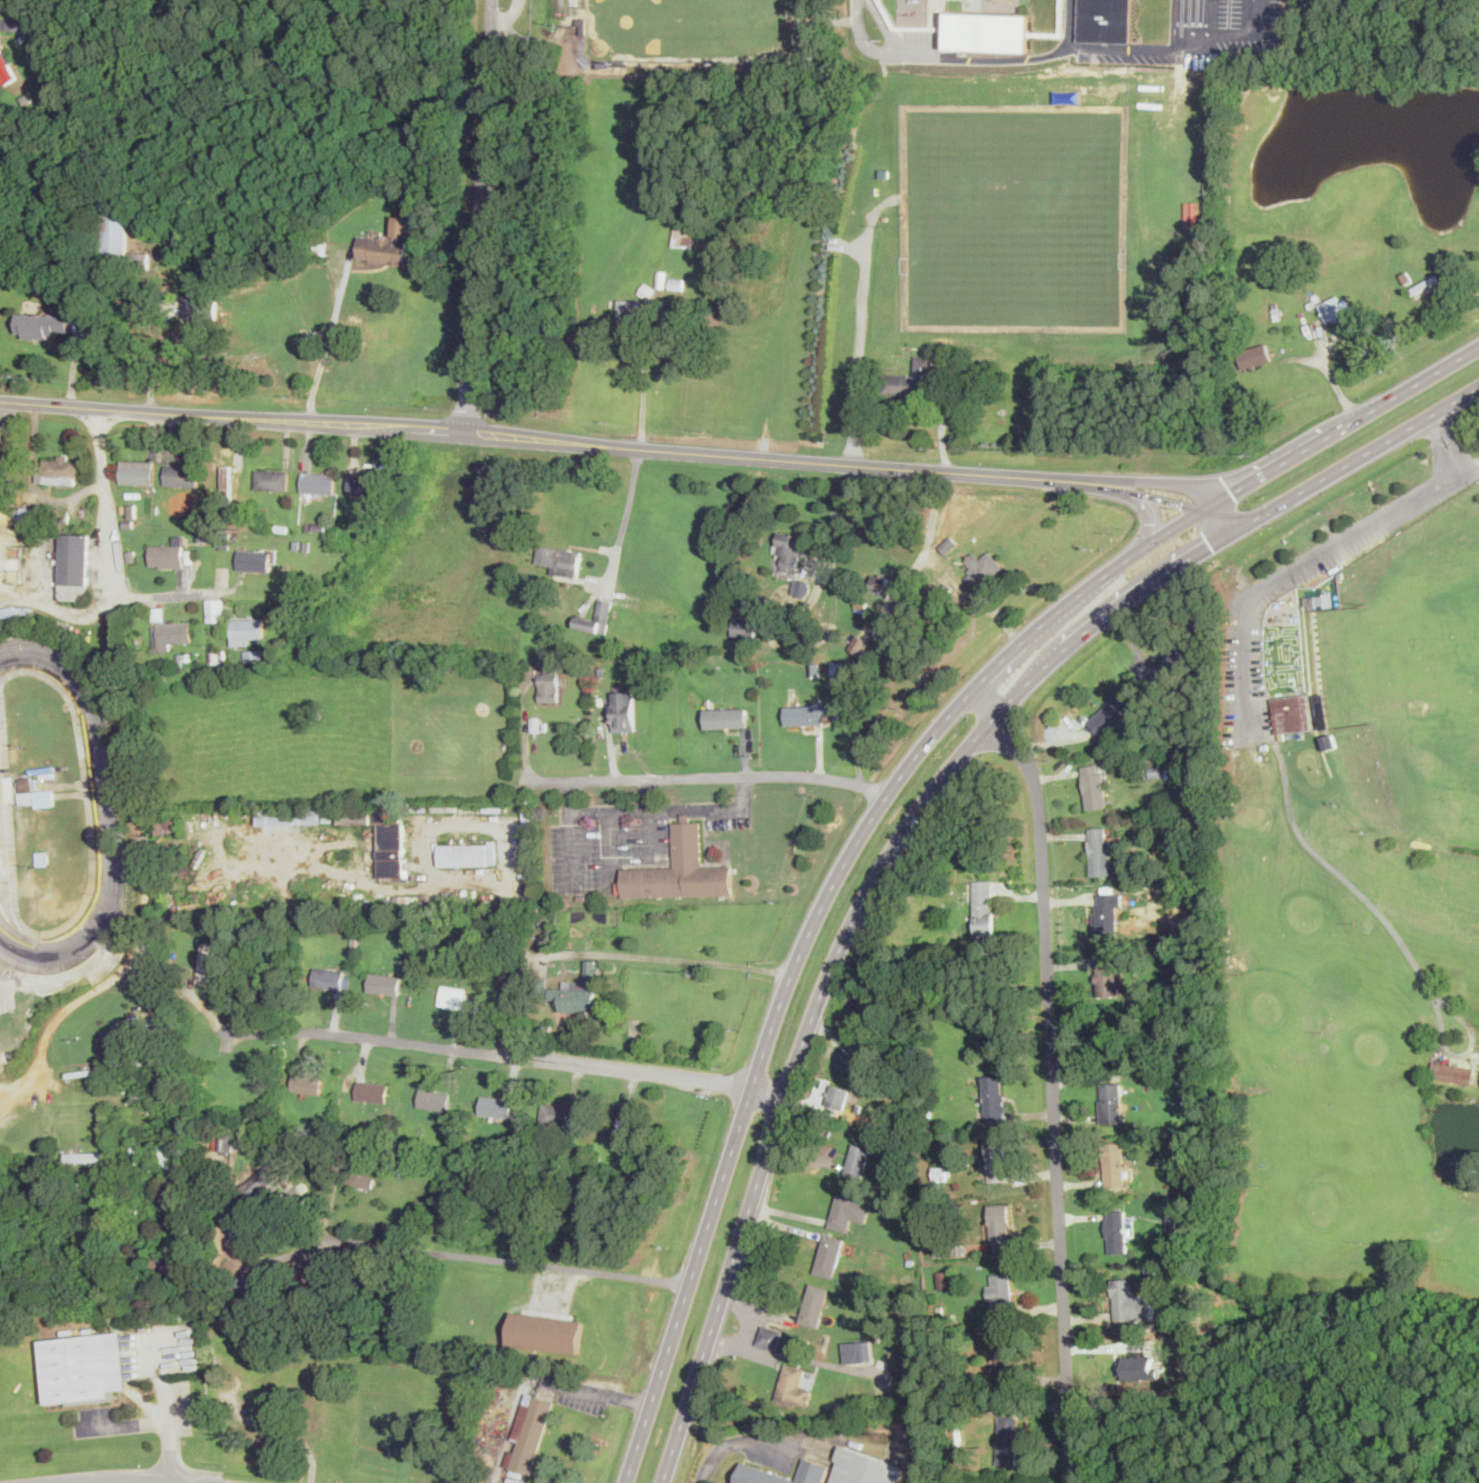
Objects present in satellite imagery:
road: (506, 15)
building: (1105, 20)
road: (1069, 24)
road: (26, 29)
building: (986, 32)
road: (1233, 34)
road: (881, 50)
road: (1050, 52)
building: (7, 67)
road: (478, 216)
building: (683, 237)
building: (121, 240)
building: (387, 243)
building: (676, 283)
building: (1425, 285)
building: (199, 306)
building: (1336, 307)
building: (632, 312)
building: (42, 324)
road: (861, 325)
road: (145, 326)
road: (327, 339)
building: (1255, 354)
road: (223, 356)
road: (1435, 371)
road: (1331, 376)
road: (645, 377)
building: (910, 378)
road: (155, 411)
building: (0, 434)
road: (1445, 442)
road: (708, 451)
road: (1300, 451)
building: (0, 454)
road: (1354, 459)
road: (1469, 466)
building: (59, 470)
building: (138, 471)
building: (180, 474)
building: (272, 478)
building: (318, 481)
road: (1163, 481)
building: (365, 485)
road: (1126, 489)
traffic signals: (1233, 492)
road: (1178, 503)
traffic signals: (1182, 504)
road: (625, 519)
road: (1220, 519)
road: (1151, 522)
road: (1165, 533)
road: (930, 534)
building: (223, 539)
building: (948, 544)
road: (818, 545)
traffic signals: (1211, 545)
building: (789, 551)
building: (169, 553)
building: (73, 559)
building: (254, 559)
building: (560, 559)
building: (982, 568)
road: (1291, 569)
building: (882, 583)
building: (800, 587)
road: (169, 595)
building: (1316, 601)
road: (56, 605)
road: (1117, 605)
building: (215, 609)
building: (596, 617)
road: (1042, 623)
building: (744, 626)
building: (246, 629)
building: (172, 634)
building: (252, 654)
building: (1170, 665)
building: (841, 669)
building: (549, 686)
building: (623, 711)
building: (1113, 711)
building: (807, 714)
building: (1291, 714)
building: (725, 717)
road: (525, 738)
building: (43, 770)
road: (136, 781)
road: (702, 781)
building: (26, 782)
building: (1094, 784)
building: (37, 796)
road: (657, 810)
raceway: (108, 813)
building: (291, 816)
road: (650, 821)
road: (88, 836)
building: (384, 839)
road: (509, 843)
road: (571, 847)
building: (1099, 850)
road: (609, 851)
building: (463, 854)
building: (679, 870)
building: (399, 903)
road: (4, 905)
building: (983, 906)
building: (1107, 914)
road: (677, 959)
building: (204, 963)
building: (1110, 974)
building: (327, 979)
building: (384, 984)
building: (580, 994)
building: (453, 997)
building: (865, 1012)
road: (504, 1054)
building: (849, 1061)
road: (795, 1066)
road: (759, 1068)
building: (1454, 1070)
road: (1053, 1076)
building: (307, 1084)
building: (372, 1092)
building: (838, 1097)
building: (994, 1097)
building: (433, 1100)
road: (7, 1101)
building: (1111, 1101)
building: (496, 1107)
building: (558, 1115)
building: (640, 1128)
building: (228, 1143)
building: (87, 1156)
building: (998, 1159)
building: (857, 1162)
building: (1114, 1162)
building: (350, 1174)
building: (260, 1183)
building: (847, 1212)
building: (999, 1229)
building: (1117, 1230)
building: (944, 1248)
building: (829, 1257)
road: (505, 1259)
building: (162, 1264)
building: (946, 1279)
building: (1001, 1291)
building: (254, 1292)
building: (1127, 1300)
building: (814, 1306)
building: (544, 1333)
building: (769, 1336)
road: (728, 1346)
building: (859, 1351)
road: (782, 1355)
building: (1006, 1360)
building: (1139, 1367)
building: (910, 1368)
building: (81, 1369)
building: (794, 1387)
road: (599, 1391)
road: (160, 1419)
road: (512, 1420)
building: (529, 1432)
building: (1007, 1439)
road: (734, 1441)
building: (864, 1467)
building: (758, 1472)
road: (127, 1479)

